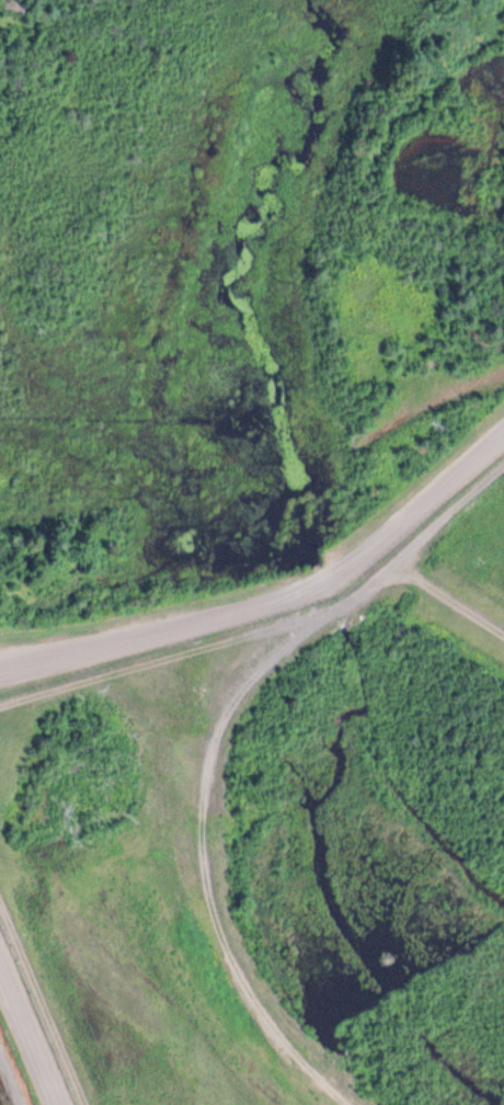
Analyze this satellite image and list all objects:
road: (275, 595)
airport: (278, 845)
road: (28, 1037)

